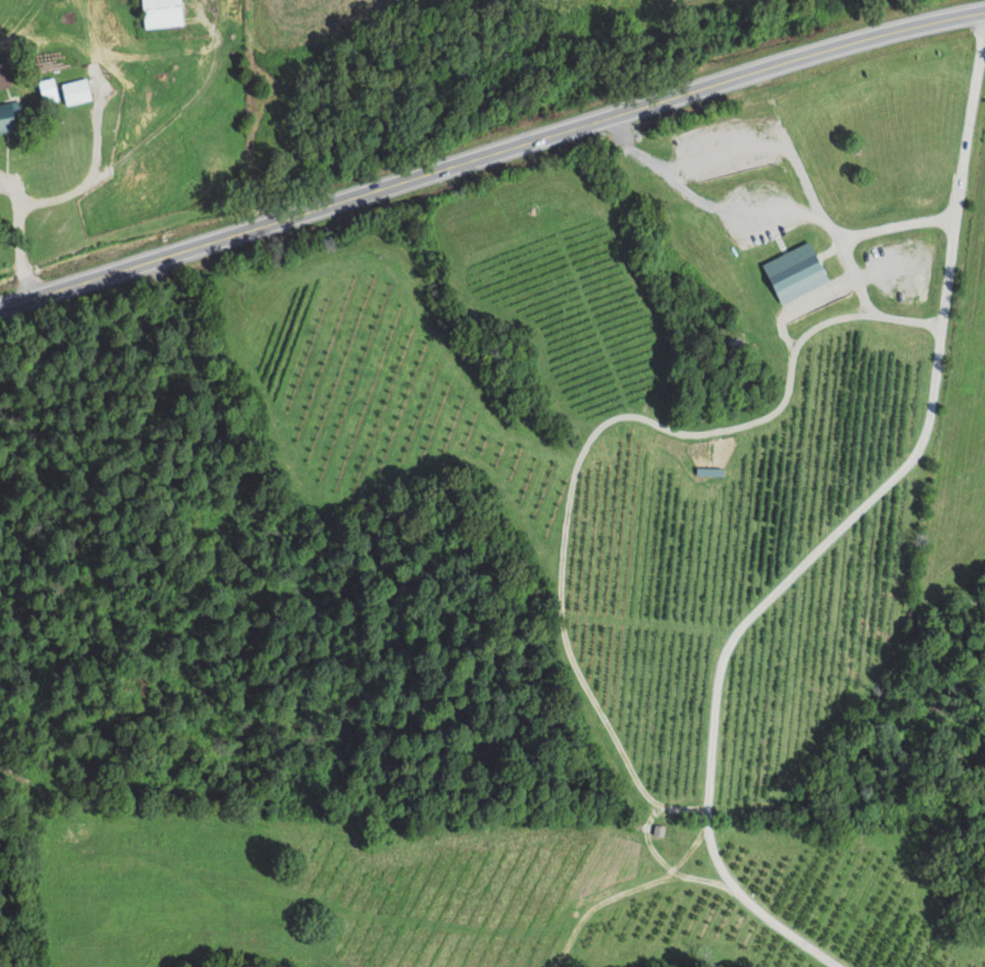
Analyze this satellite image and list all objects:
building: (161, 13)
building: (3, 75)
building: (47, 90)
building: (75, 92)
building: (9, 115)
road: (491, 164)
road: (841, 529)

